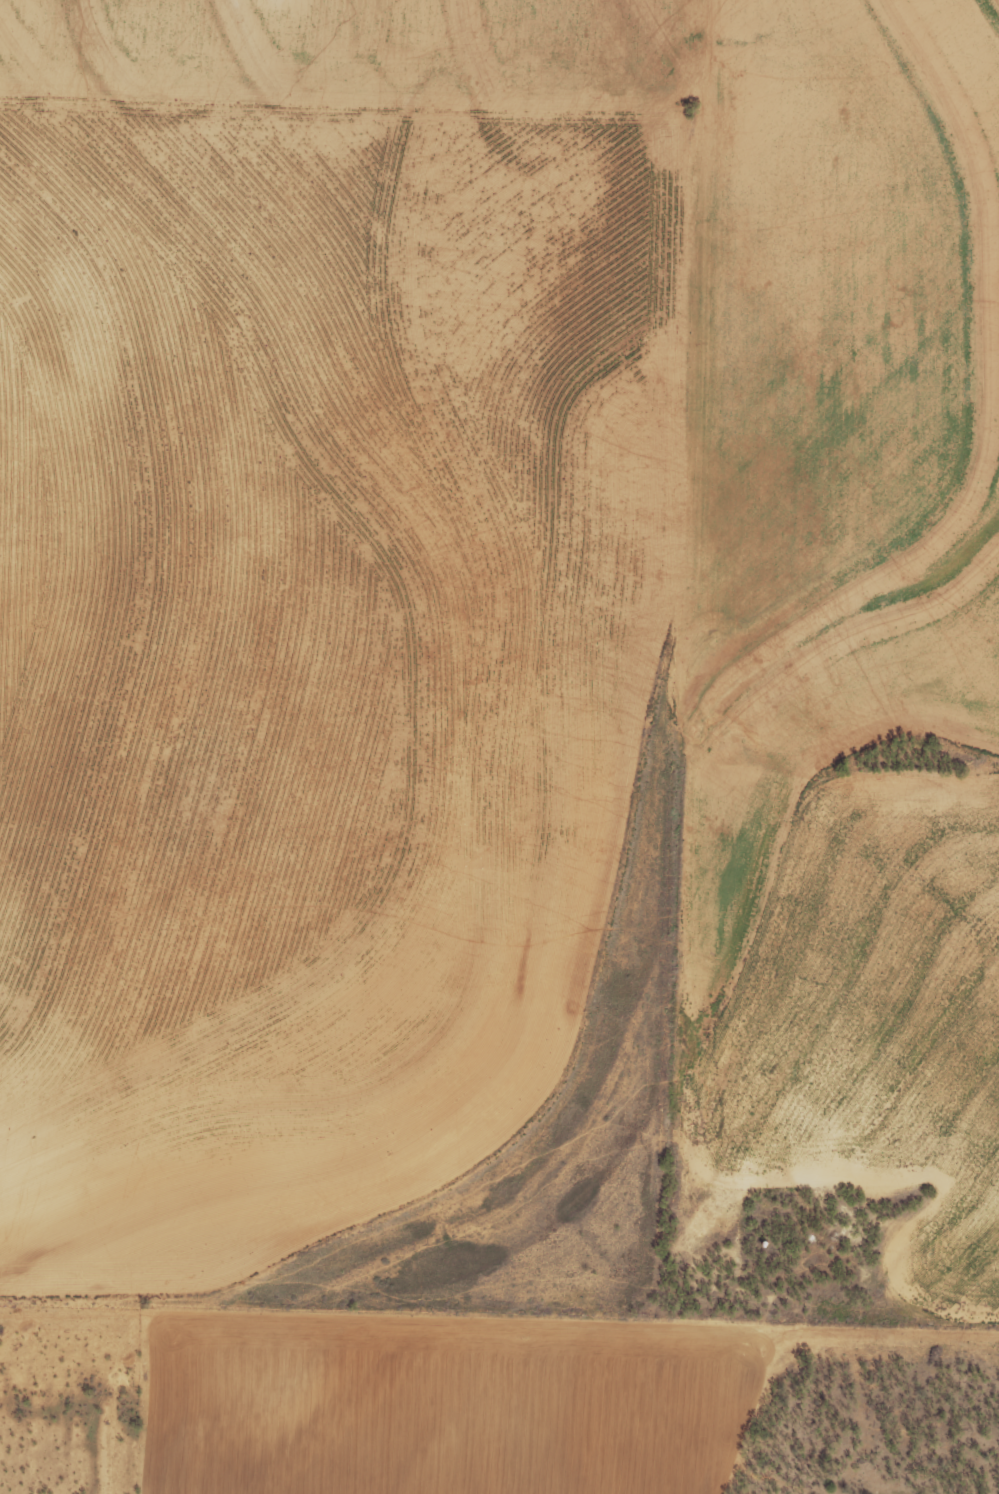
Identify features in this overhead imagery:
road: (325, 1310)

